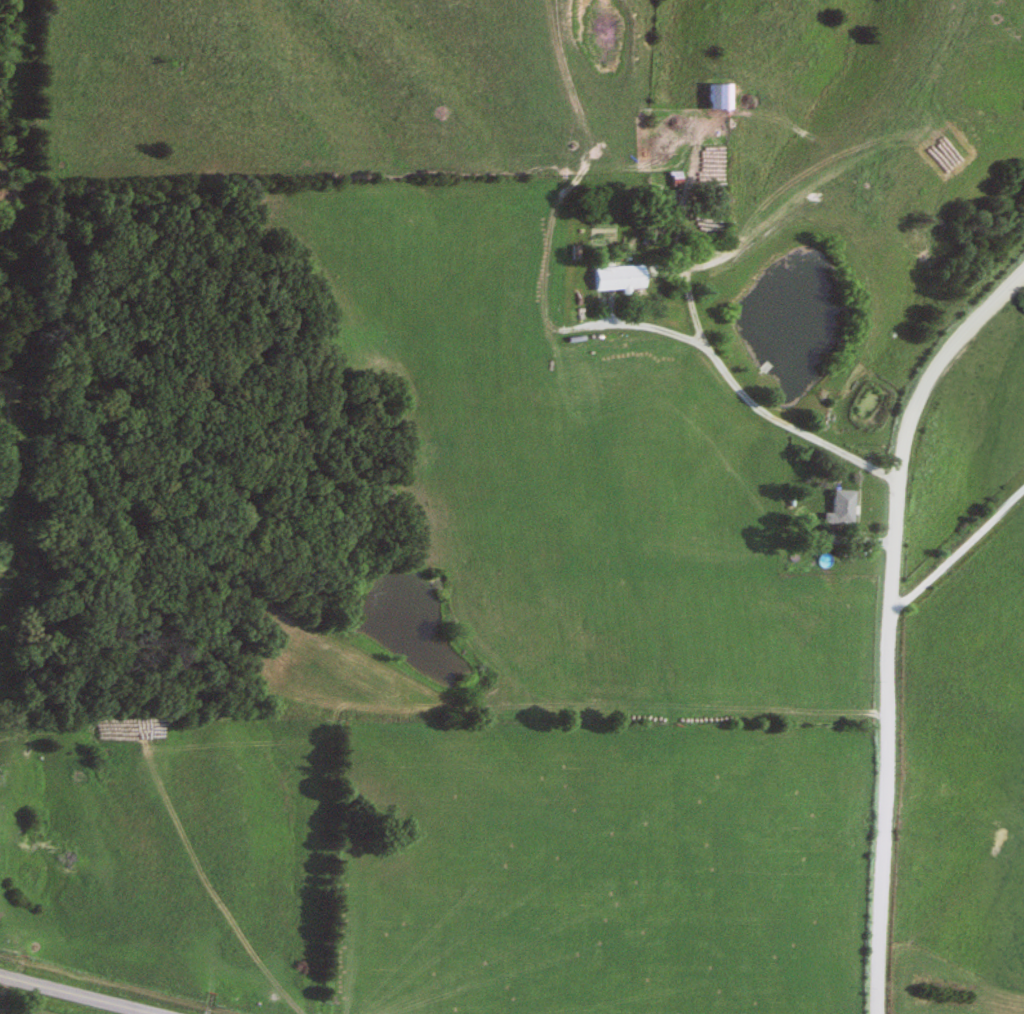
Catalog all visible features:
building: (715, 97)
building: (647, 231)
building: (614, 278)
road: (651, 326)
road: (714, 363)
building: (836, 508)
road: (959, 560)
road: (892, 623)
road: (4, 992)
road: (66, 997)

